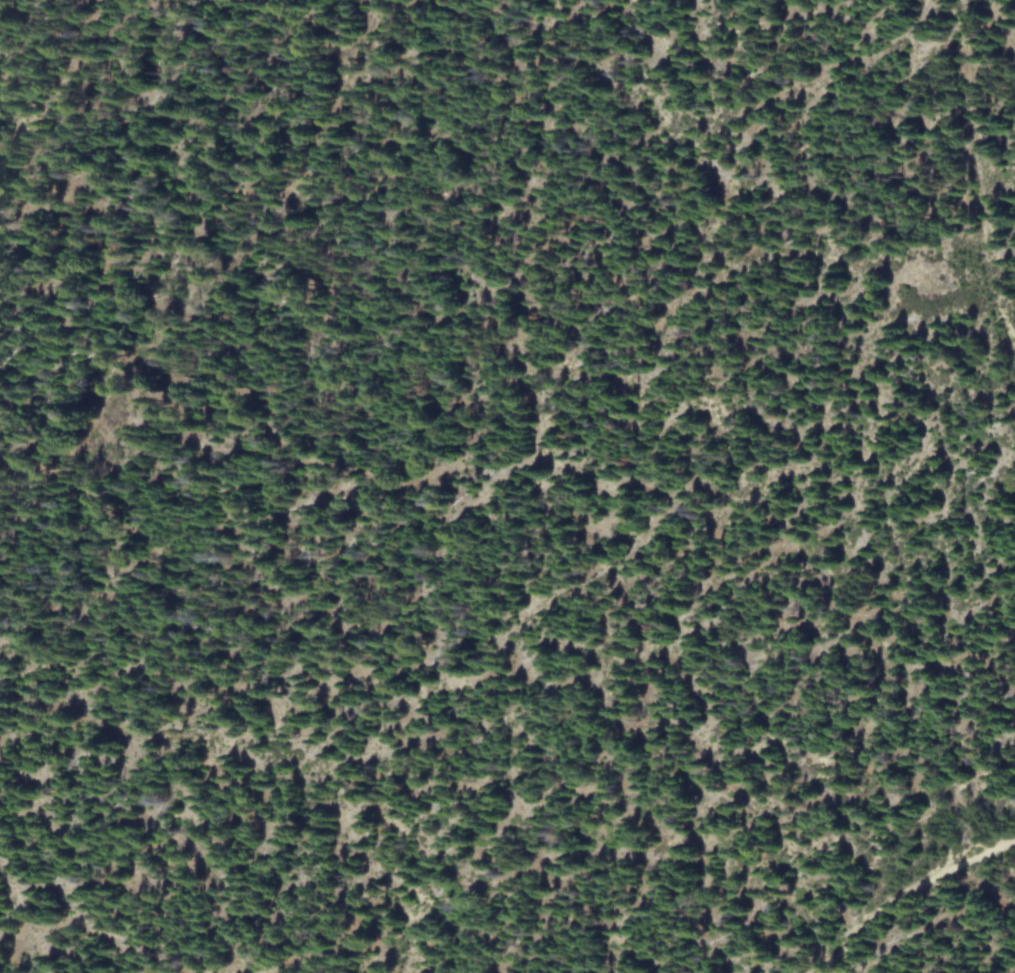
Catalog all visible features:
road: (905, 890)

